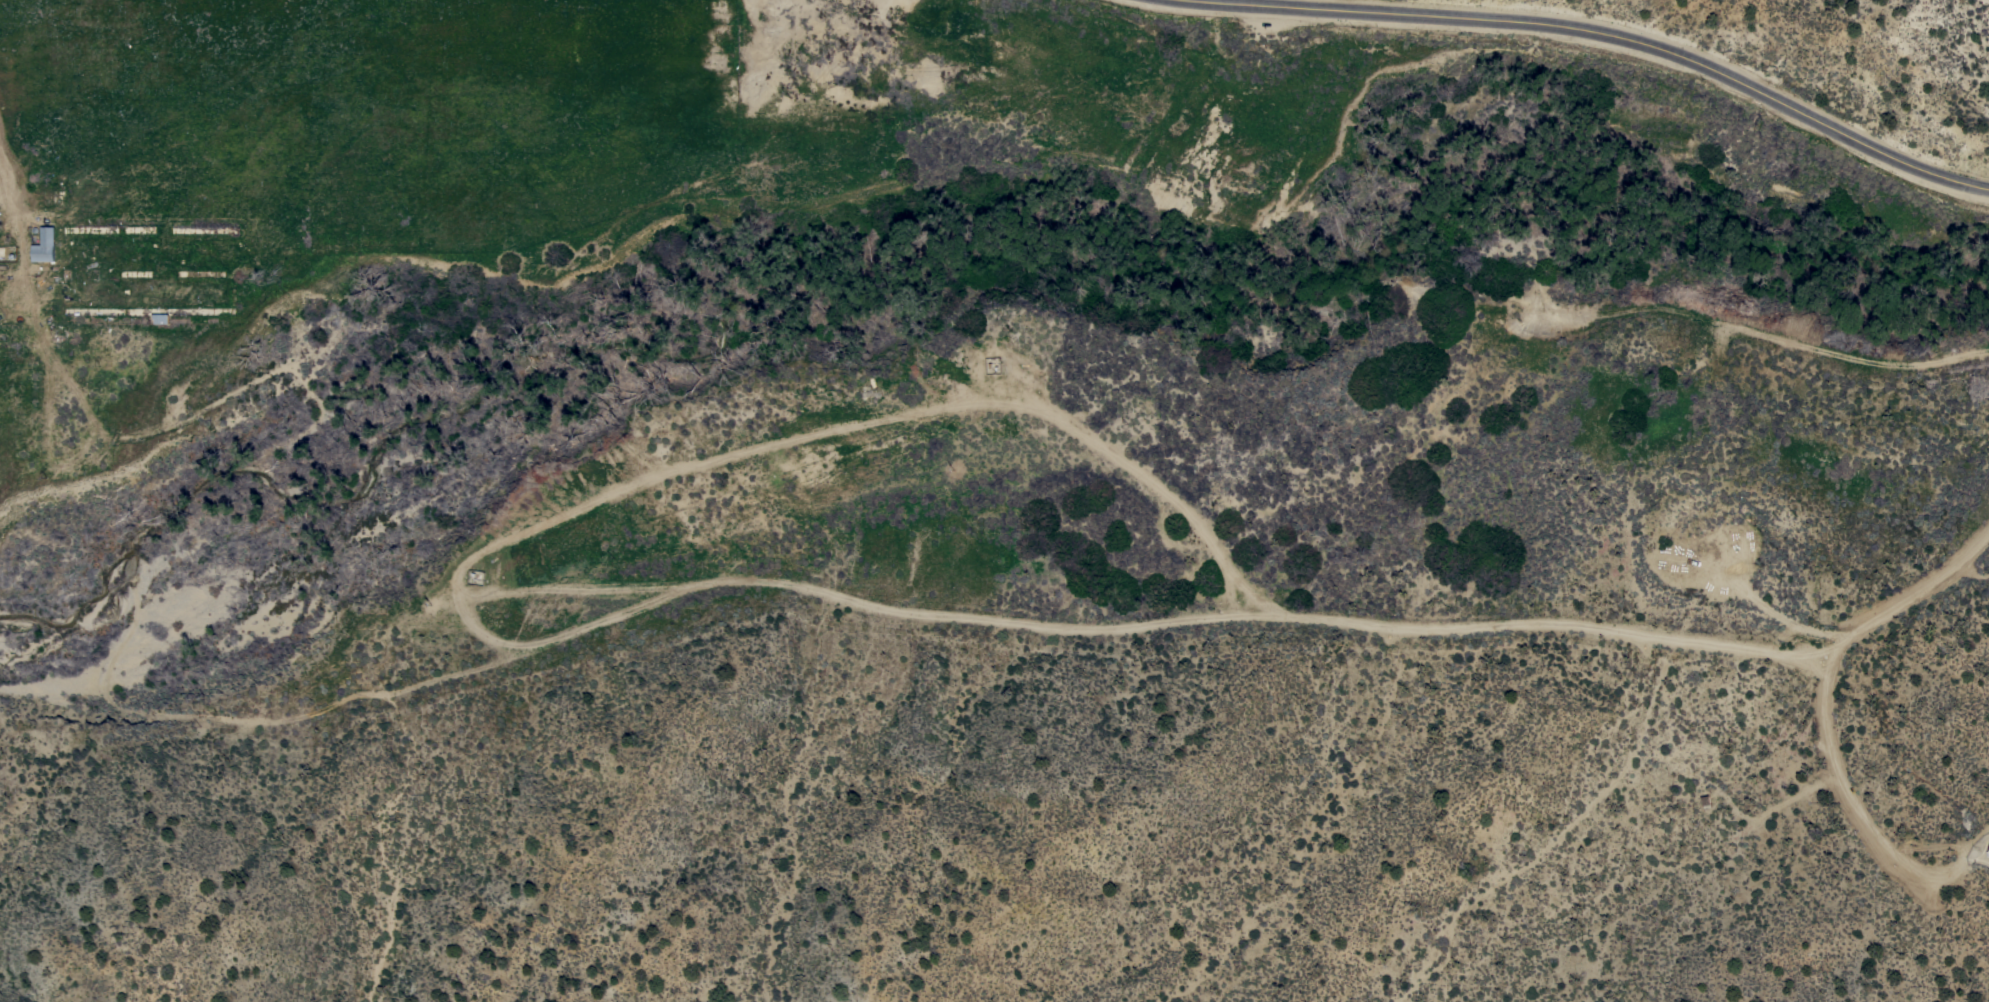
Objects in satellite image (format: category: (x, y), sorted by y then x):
road: (1590, 34)
road: (1, 153)
building: (44, 245)
building: (159, 319)
road: (1040, 624)

